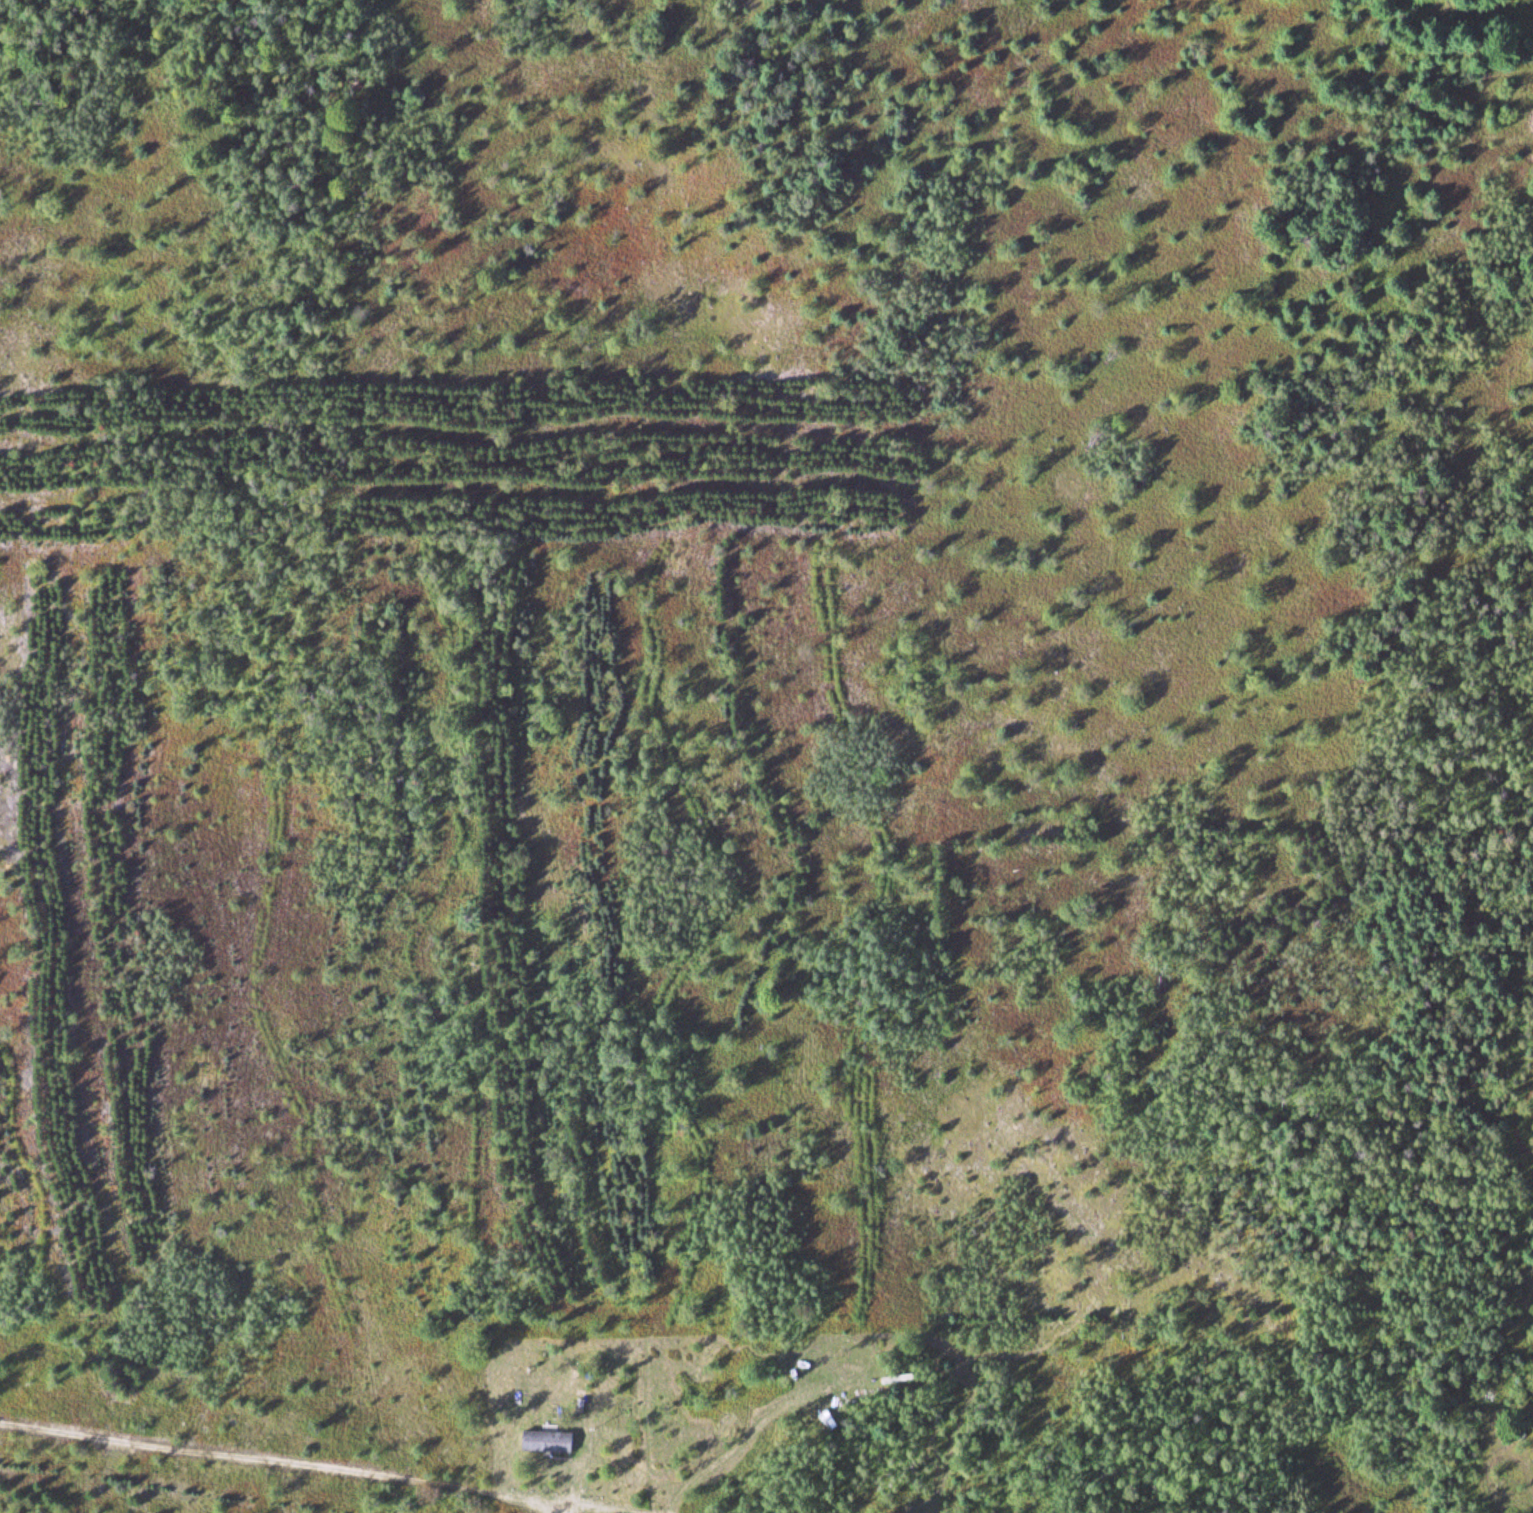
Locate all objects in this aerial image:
building: (545, 1441)
road: (300, 1468)
road: (558, 1510)

